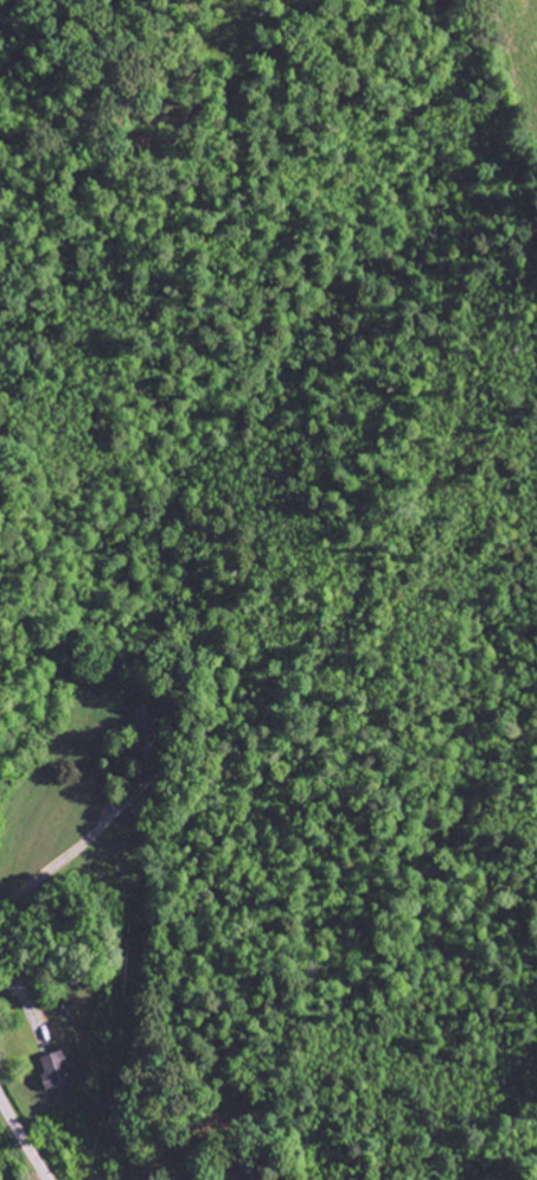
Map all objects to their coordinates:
building: (57, 1070)
road: (23, 1140)

